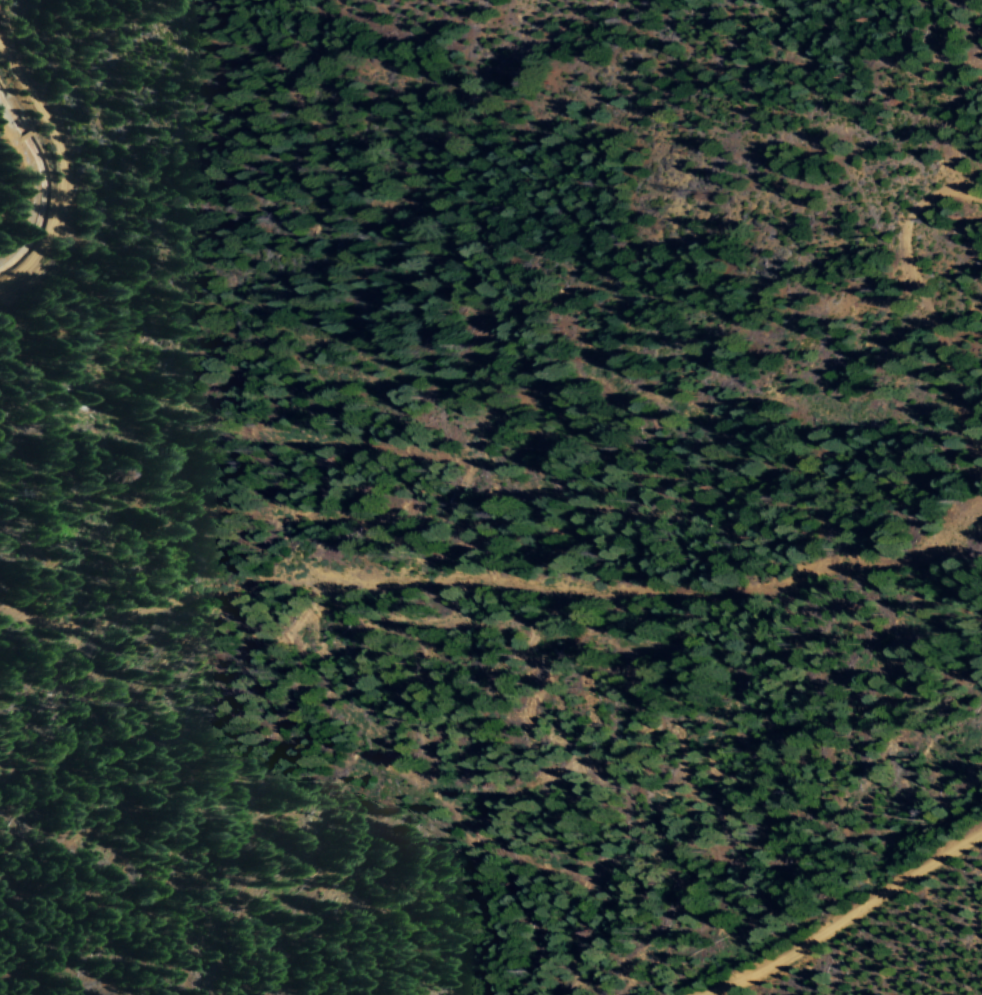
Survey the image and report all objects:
road: (109, 177)

